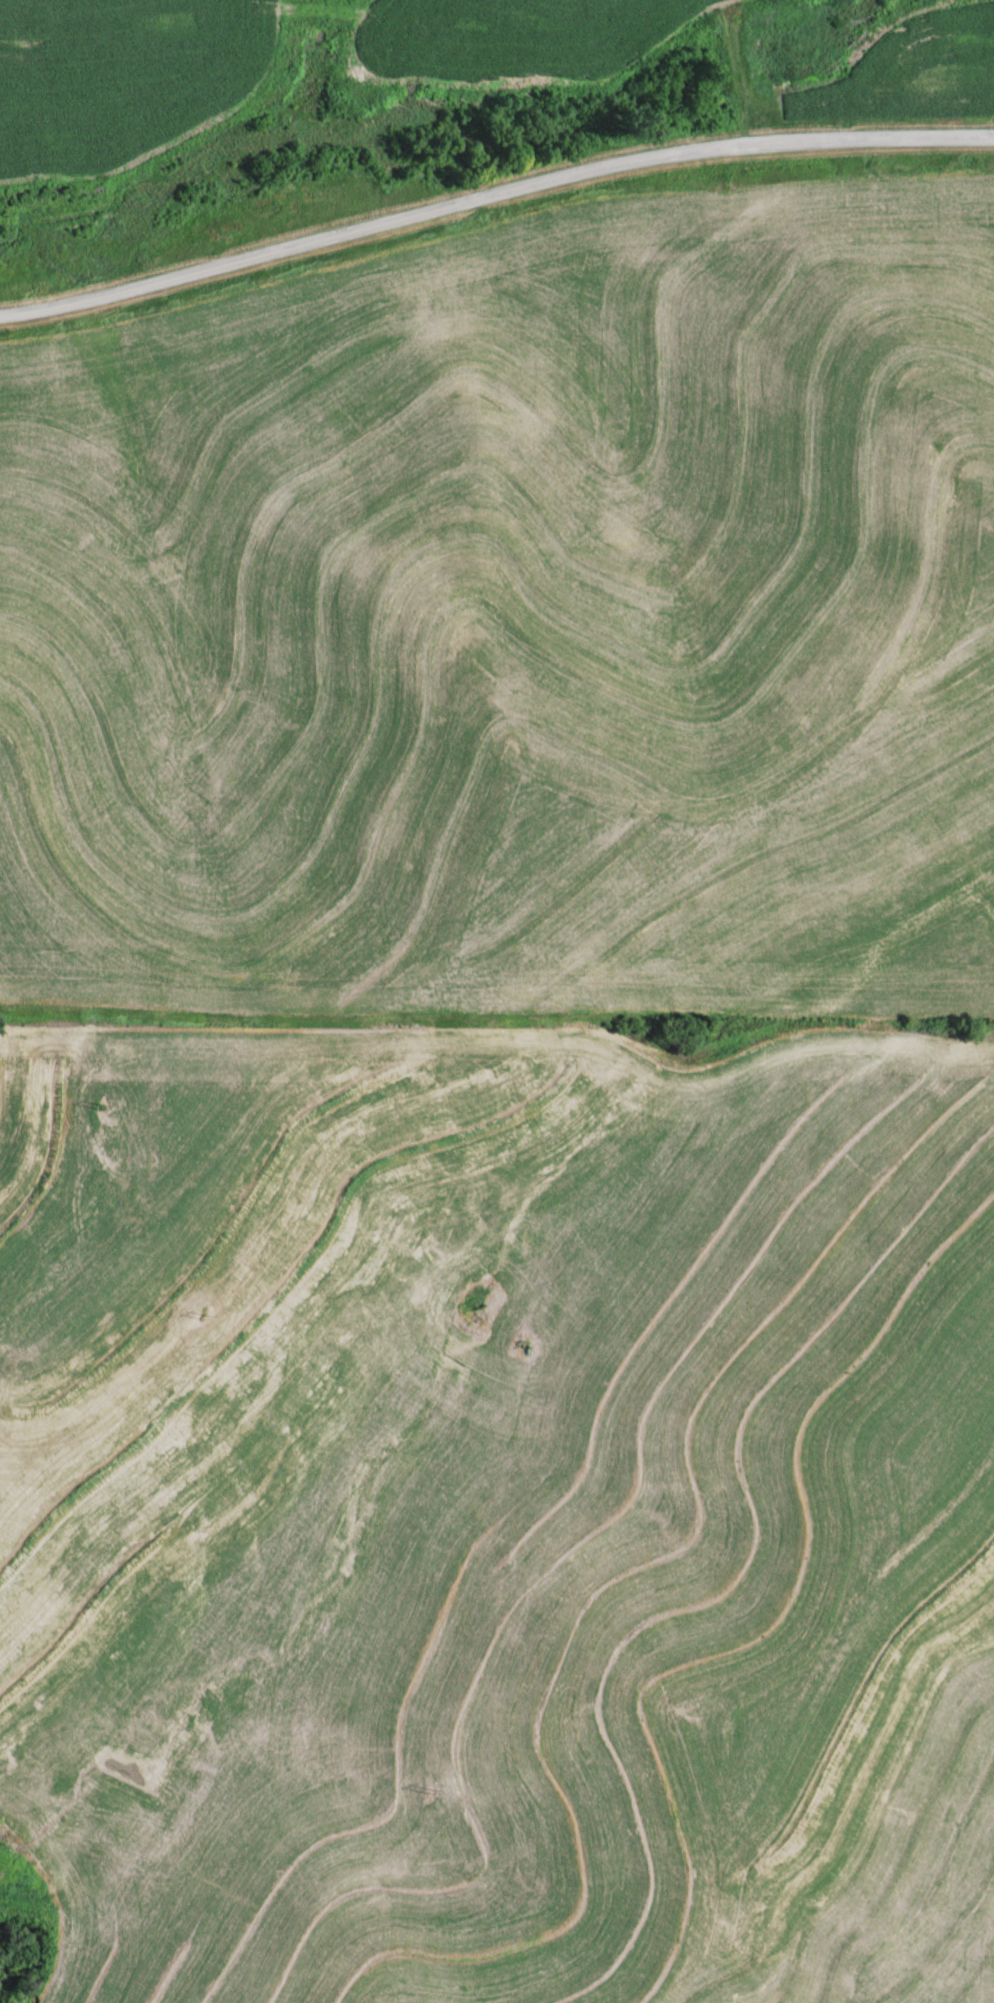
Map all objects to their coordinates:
road: (491, 189)

